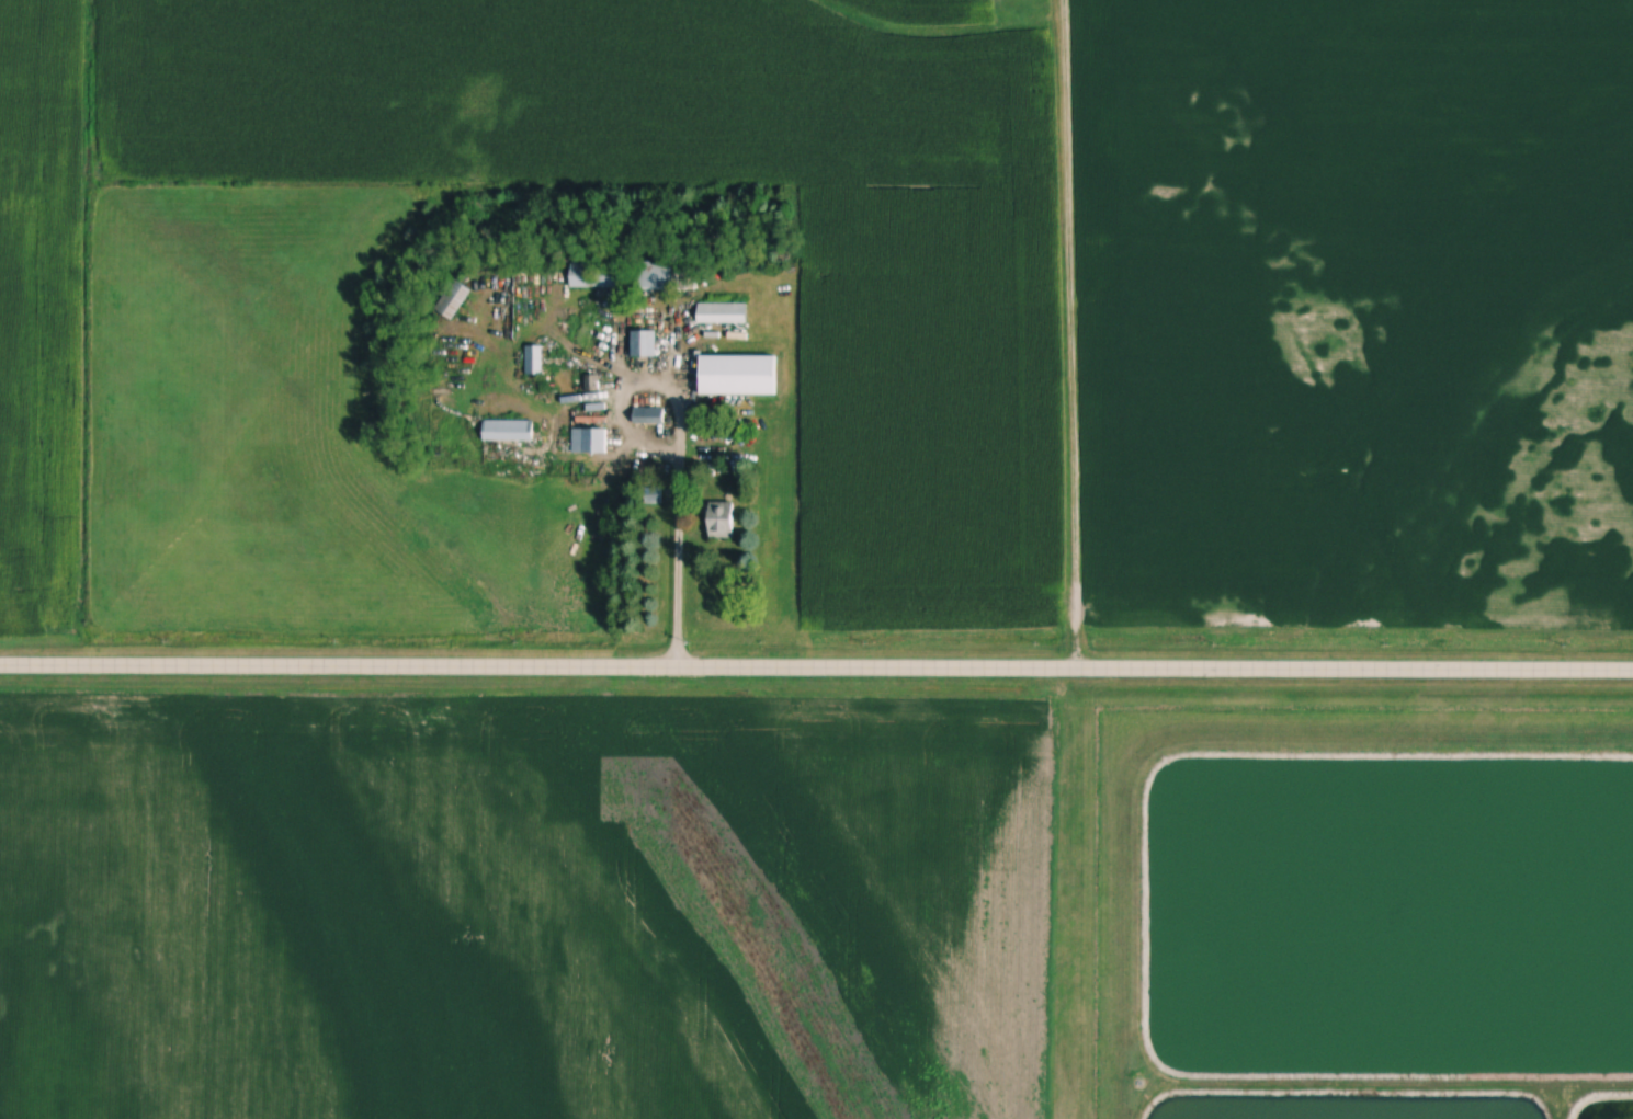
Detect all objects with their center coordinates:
building: (596, 275)
building: (657, 275)
building: (455, 300)
building: (724, 313)
road: (1059, 334)
building: (645, 343)
building: (536, 359)
building: (742, 375)
road: (655, 386)
building: (650, 415)
building: (510, 430)
building: (592, 441)
building: (725, 519)
road: (678, 569)
road: (816, 669)

